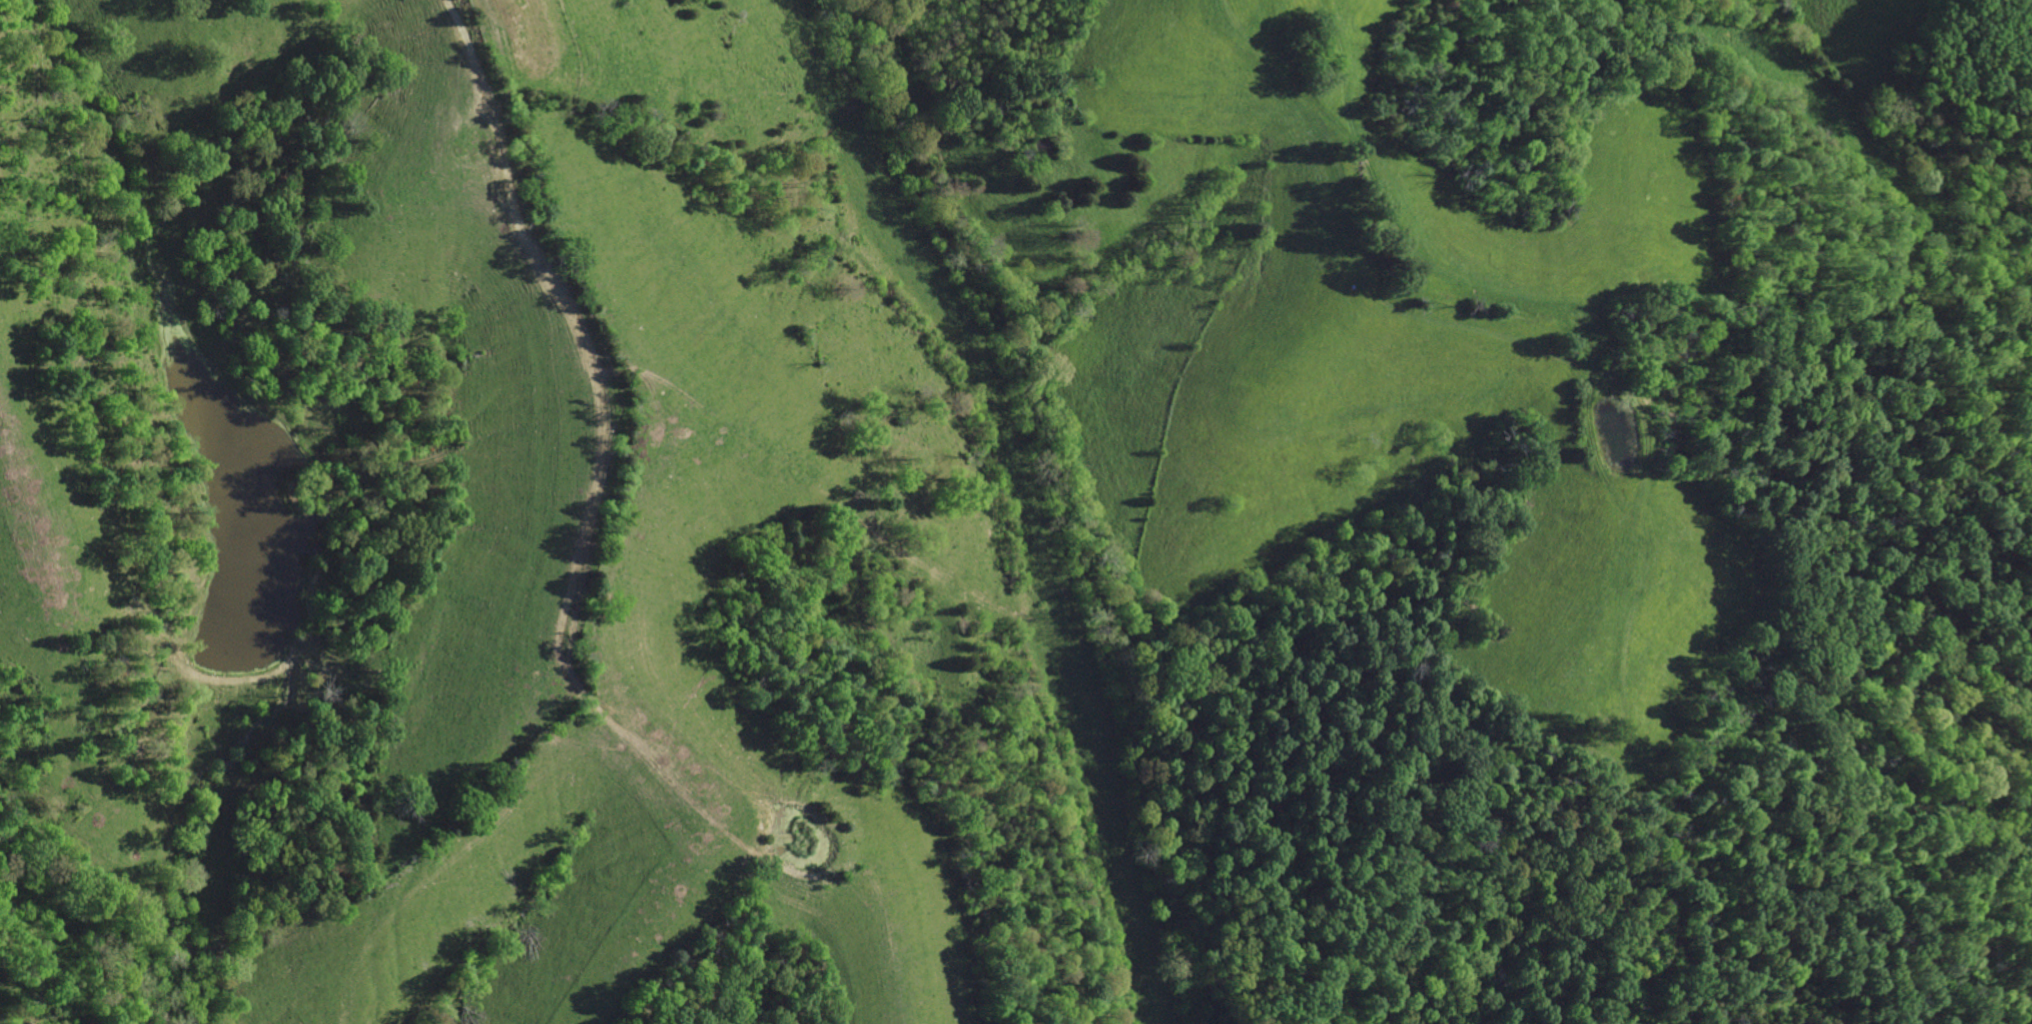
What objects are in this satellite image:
road: (601, 425)

